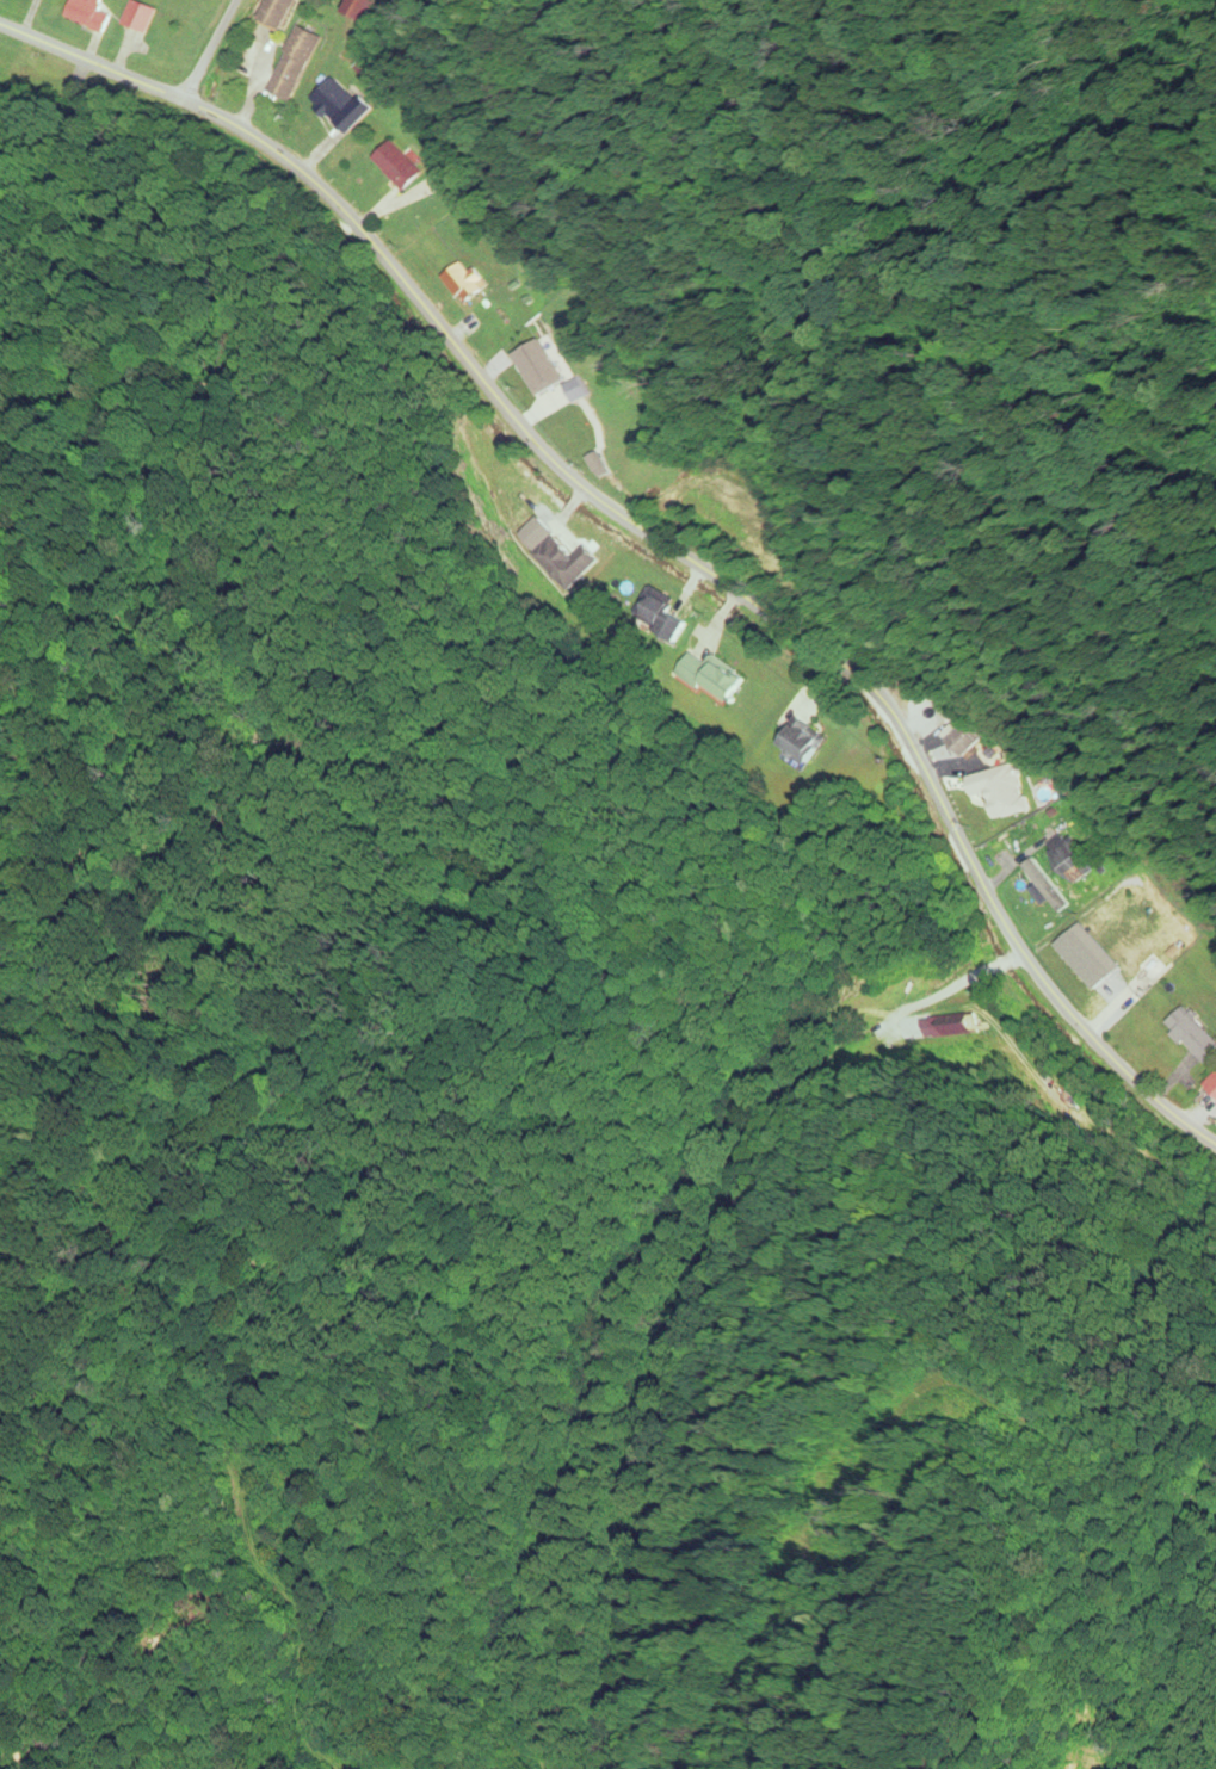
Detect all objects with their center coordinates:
building: (368, 8)
building: (285, 13)
building: (142, 18)
road: (210, 49)
building: (297, 64)
building: (346, 107)
building: (401, 167)
building: (542, 366)
building: (575, 420)
road: (654, 524)
building: (968, 743)
building: (1001, 792)
building: (1070, 860)
building: (1134, 952)
building: (1189, 1035)
building: (1210, 1089)

